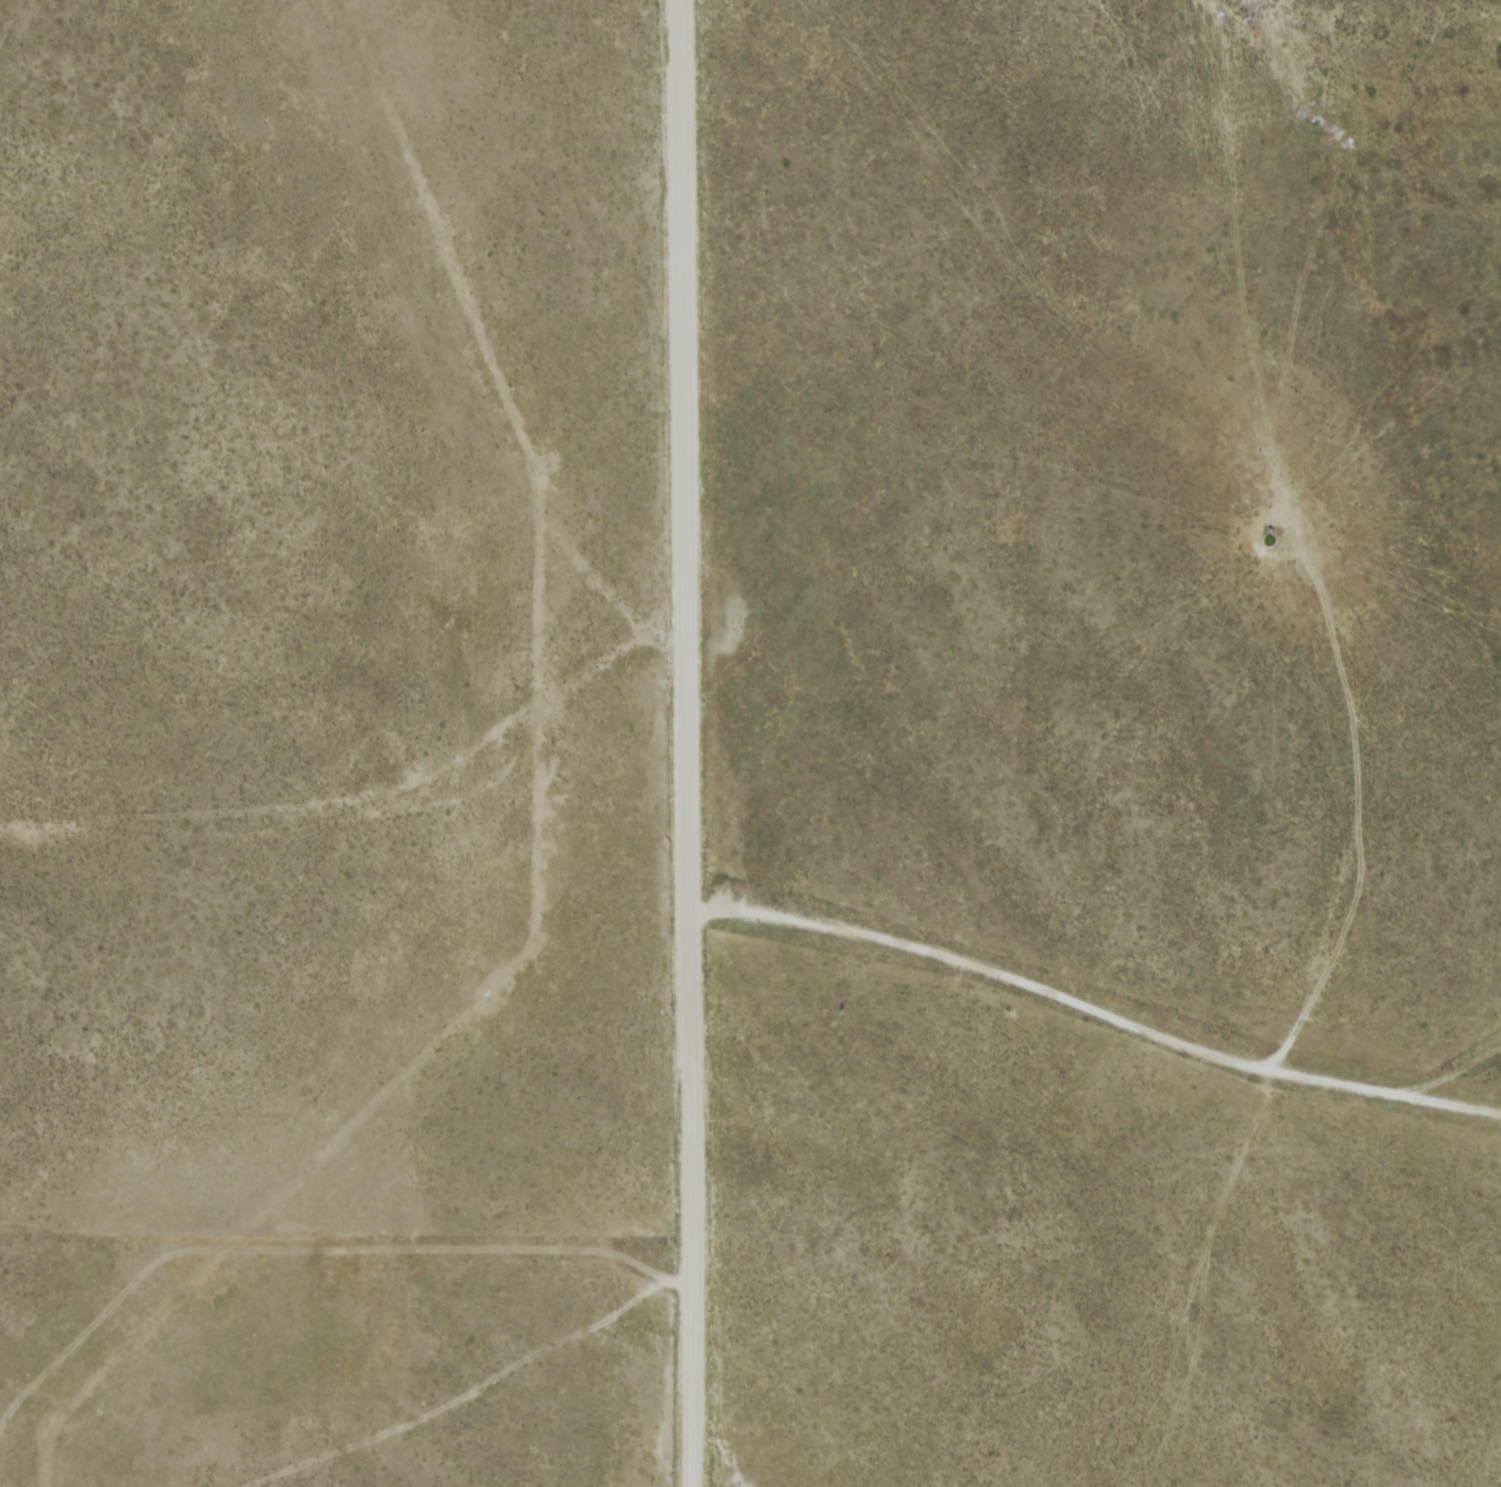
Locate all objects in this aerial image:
road: (687, 743)
road: (1093, 1012)
road: (314, 1251)

